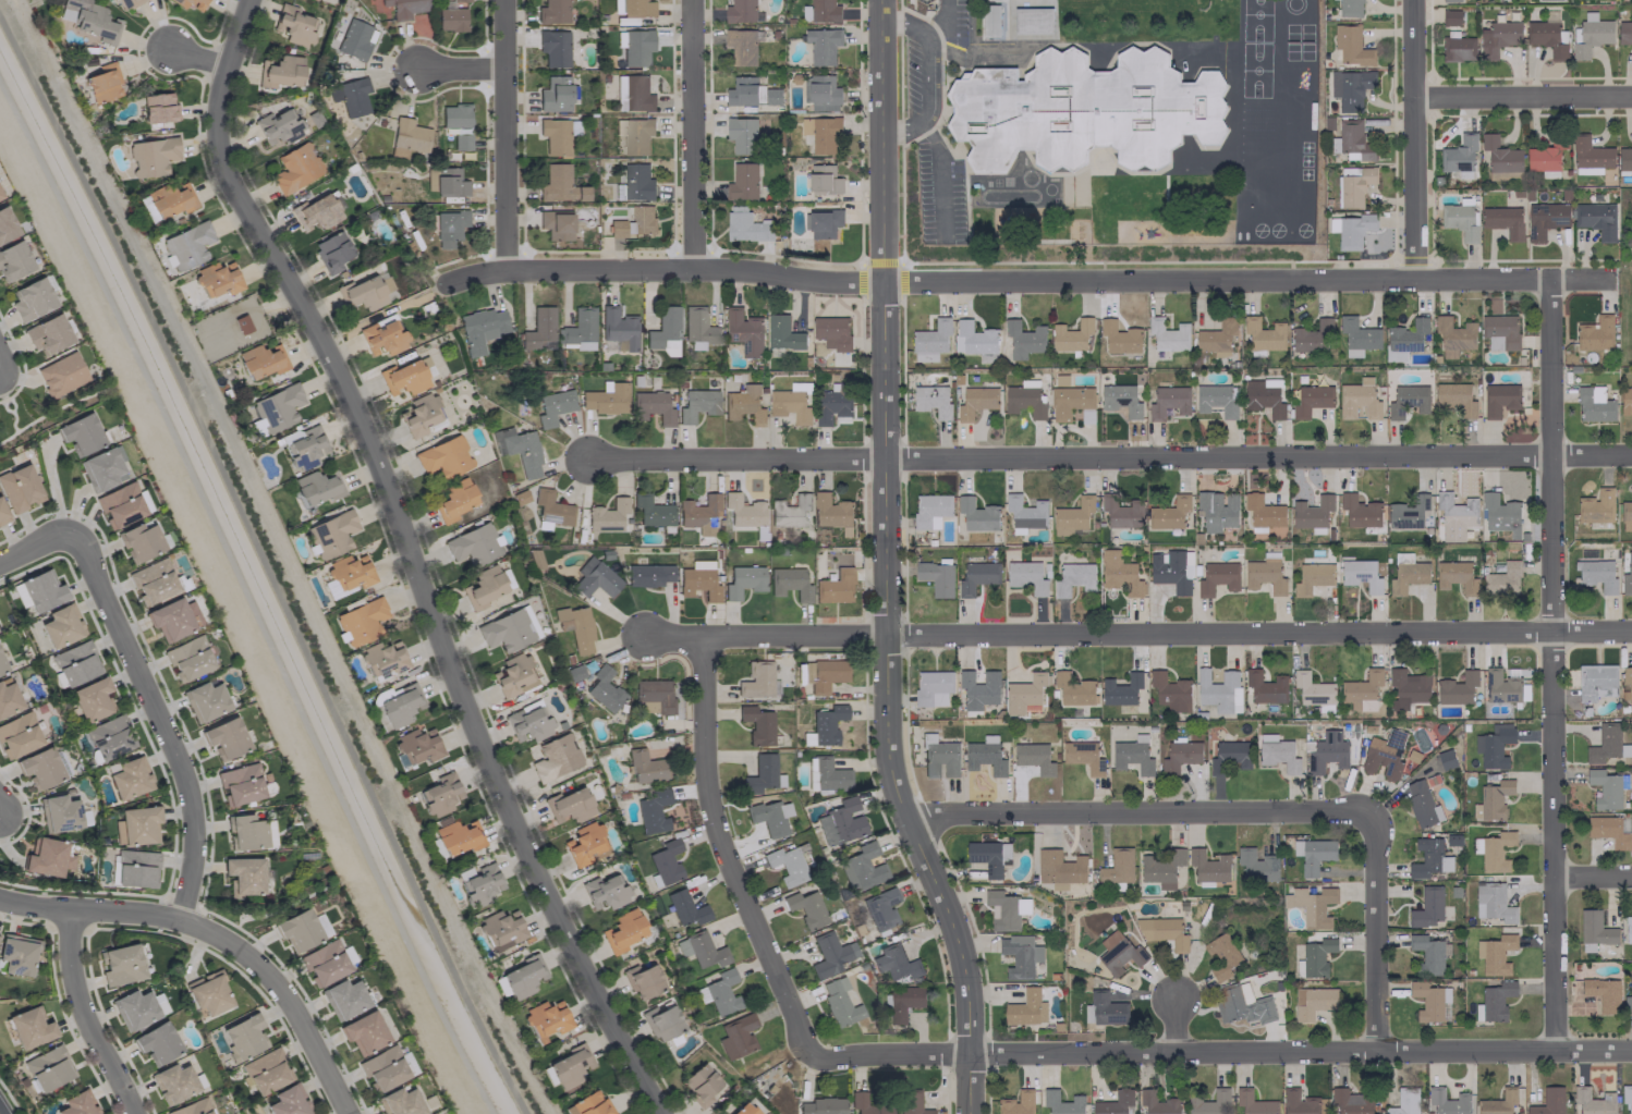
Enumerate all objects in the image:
building: (924, 0)
building: (1450, 0)
building: (126, 3)
building: (190, 3)
building: (404, 8)
building: (636, 8)
building: (1349, 8)
building: (740, 11)
building: (824, 11)
building: (552, 12)
building: (451, 15)
building: (1450, 16)
building: (89, 20)
building: (1033, 20)
road: (940, 21)
building: (990, 21)
building: (292, 25)
building: (1624, 32)
building: (1591, 35)
building: (1498, 37)
building: (1547, 37)
building: (355, 39)
building: (821, 45)
building: (1350, 45)
building: (635, 46)
building: (742, 46)
building: (553, 47)
building: (1458, 48)
road: (198, 57)
road: (462, 69)
building: (280, 71)
road: (928, 75)
building: (102, 82)
building: (1350, 88)
building: (633, 93)
building: (751, 93)
building: (820, 93)
building: (555, 94)
building: (353, 96)
road: (1523, 97)
building: (158, 107)
building: (1083, 110)
building: (456, 124)
building: (277, 127)
road: (506, 134)
building: (634, 134)
road: (694, 134)
building: (819, 134)
building: (742, 135)
building: (555, 136)
building: (406, 137)
road: (1414, 139)
building: (1353, 142)
building: (1459, 154)
building: (1500, 155)
building: (1545, 155)
building: (151, 156)
building: (1590, 156)
building: (1624, 158)
building: (295, 168)
road: (938, 177)
building: (824, 179)
building: (742, 181)
building: (449, 182)
building: (635, 183)
building: (1354, 184)
building: (559, 185)
building: (0, 196)
building: (170, 199)
building: (147, 208)
building: (316, 212)
building: (1545, 219)
building: (1596, 219)
building: (1460, 220)
building: (1503, 221)
building: (633, 222)
building: (823, 222)
building: (5, 224)
building: (556, 224)
building: (745, 224)
building: (448, 227)
building: (1351, 229)
building: (1631, 237)
building: (186, 245)
building: (331, 252)
building: (13, 260)
building: (217, 279)
road: (1027, 281)
building: (365, 291)
building: (32, 299)
building: (618, 327)
building: (663, 327)
building: (479, 328)
building: (698, 328)
building: (538, 329)
building: (578, 329)
building: (743, 331)
building: (1500, 331)
building: (832, 332)
building: (782, 333)
building: (1595, 333)
building: (48, 334)
building: (1168, 334)
building: (1264, 334)
building: (1071, 335)
building: (1356, 335)
building: (1119, 336)
building: (1312, 336)
building: (1453, 336)
building: (1217, 338)
building: (381, 339)
building: (1024, 339)
building: (1404, 339)
building: (930, 340)
building: (973, 340)
building: (261, 360)
building: (61, 374)
building: (403, 378)
building: (800, 387)
building: (606, 397)
building: (1263, 397)
building: (1357, 399)
building: (1454, 399)
building: (1499, 399)
building: (931, 400)
building: (1024, 400)
building: (1120, 400)
building: (1217, 400)
building: (1311, 400)
building: (1408, 400)
building: (975, 401)
building: (1168, 401)
building: (1625, 401)
building: (832, 403)
building: (1072, 403)
building: (697, 404)
building: (744, 404)
building: (1594, 404)
building: (790, 405)
building: (553, 406)
building: (651, 406)
building: (277, 407)
building: (419, 415)
building: (81, 432)
building: (304, 446)
building: (517, 449)
road: (1109, 453)
building: (443, 456)
building: (102, 468)
building: (317, 487)
building: (19, 488)
building: (454, 500)
building: (120, 505)
building: (1596, 505)
building: (551, 507)
building: (743, 510)
building: (930, 510)
building: (1216, 510)
building: (653, 511)
building: (789, 511)
building: (831, 511)
building: (1121, 511)
building: (1360, 511)
building: (1454, 511)
building: (1025, 512)
building: (1263, 512)
building: (1312, 512)
building: (1408, 512)
building: (698, 513)
building: (1169, 513)
building: (2, 514)
building: (977, 514)
building: (607, 515)
building: (1072, 515)
building: (1500, 515)
building: (1625, 515)
building: (332, 532)
building: (139, 541)
building: (474, 544)
road: (35, 547)
road: (412, 559)
road: (887, 564)
road: (265, 566)
building: (1171, 570)
building: (1119, 573)
building: (1406, 573)
building: (648, 574)
building: (1361, 574)
building: (1596, 574)
building: (346, 575)
building: (1264, 575)
building: (976, 576)
building: (1025, 576)
building: (1456, 576)
building: (1627, 576)
building: (936, 577)
building: (1217, 577)
building: (1312, 577)
building: (594, 578)
building: (1073, 578)
building: (1502, 579)
building: (153, 580)
building: (698, 580)
building: (743, 580)
building: (789, 583)
building: (835, 586)
building: (483, 587)
building: (41, 590)
building: (173, 617)
building: (362, 620)
building: (61, 626)
building: (576, 627)
building: (508, 629)
road: (1136, 629)
building: (187, 658)
building: (383, 659)
building: (75, 663)
road: (1554, 664)
building: (2, 665)
building: (823, 674)
building: (513, 675)
building: (757, 680)
building: (1595, 681)
building: (1625, 683)
building: (1265, 686)
building: (1500, 686)
building: (933, 687)
building: (602, 688)
building: (978, 688)
building: (1073, 688)
building: (1168, 688)
building: (1312, 688)
building: (1408, 688)
building: (1457, 688)
building: (1121, 689)
building: (1218, 690)
building: (1362, 690)
building: (1023, 693)
building: (655, 694)
building: (9, 699)
building: (90, 699)
building: (205, 700)
building: (528, 720)
road: (160, 722)
building: (826, 723)
building: (756, 724)
building: (17, 735)
building: (108, 736)
building: (224, 737)
building: (1607, 744)
building: (417, 745)
building: (1494, 745)
building: (1277, 752)
building: (1327, 752)
building: (1384, 754)
building: (1132, 755)
building: (1083, 756)
building: (1180, 756)
building: (938, 757)
building: (984, 757)
building: (1035, 757)
building: (1229, 757)
building: (555, 758)
building: (644, 767)
building: (39, 768)
building: (762, 774)
building: (826, 774)
building: (130, 778)
building: (240, 784)
building: (1606, 788)
building: (440, 794)
building: (1493, 800)
building: (1421, 804)
building: (569, 805)
building: (653, 810)
road: (1137, 810)
building: (58, 812)
building: (769, 816)
building: (841, 821)
building: (135, 824)
building: (1610, 831)
building: (245, 832)
building: (269, 832)
building: (458, 836)
building: (585, 844)
building: (1496, 850)
building: (1313, 854)
road: (723, 855)
building: (989, 856)
building: (46, 857)
building: (1428, 858)
building: (665, 860)
building: (785, 865)
building: (1256, 865)
building: (1118, 866)
building: (1208, 866)
building: (862, 867)
building: (136, 868)
building: (1059, 868)
building: (1161, 868)
building: (243, 876)
road: (1593, 876)
building: (479, 883)
building: (604, 892)
building: (1493, 902)
building: (1312, 905)
building: (1427, 907)
building: (684, 908)
building: (805, 908)
building: (880, 909)
building: (1004, 909)
road: (1377, 927)
building: (1595, 928)
building: (501, 929)
building: (1628, 929)
building: (297, 930)
building: (623, 930)
building: (1164, 931)
road: (218, 937)
building: (699, 950)
building: (1119, 953)
building: (17, 954)
building: (829, 954)
building: (1428, 954)
building: (1495, 954)
building: (1020, 955)
building: (1221, 955)
building: (1317, 956)
building: (896, 962)
building: (324, 963)
building: (120, 965)
building: (522, 977)
building: (643, 980)
building: (208, 992)
building: (719, 992)
building: (1603, 993)
building: (1628, 996)
building: (343, 999)
building: (1496, 1000)
building: (903, 1001)
building: (839, 1002)
building: (1313, 1002)
building: (1430, 1002)
building: (158, 1003)
building: (1242, 1004)
building: (133, 1008)
building: (1026, 1008)
building: (1104, 1009)
road: (85, 1017)
building: (546, 1019)
building: (661, 1021)
road: (1173, 1026)
building: (29, 1027)
building: (363, 1031)
building: (243, 1036)
building: (736, 1036)
building: (156, 1042)
road: (1221, 1049)
building: (570, 1065)
building: (48, 1068)
building: (382, 1068)
building: (266, 1070)
building: (173, 1082)
building: (701, 1085)
building: (1627, 1095)
building: (288, 1101)
building: (1593, 1101)
building: (400, 1102)
building: (911, 1102)
building: (1062, 1102)
building: (1113, 1102)
building: (1157, 1102)
building: (1253, 1102)
building: (1302, 1102)
building: (1350, 1102)
building: (1404, 1102)
building: (1450, 1102)
building: (1498, 1102)
building: (1548, 1102)
building: (76, 1103)
building: (1016, 1103)
building: (1209, 1103)
building: (588, 1104)
building: (865, 1104)
building: (821, 1105)
building: (191, 1107)
building: (743, 1109)

